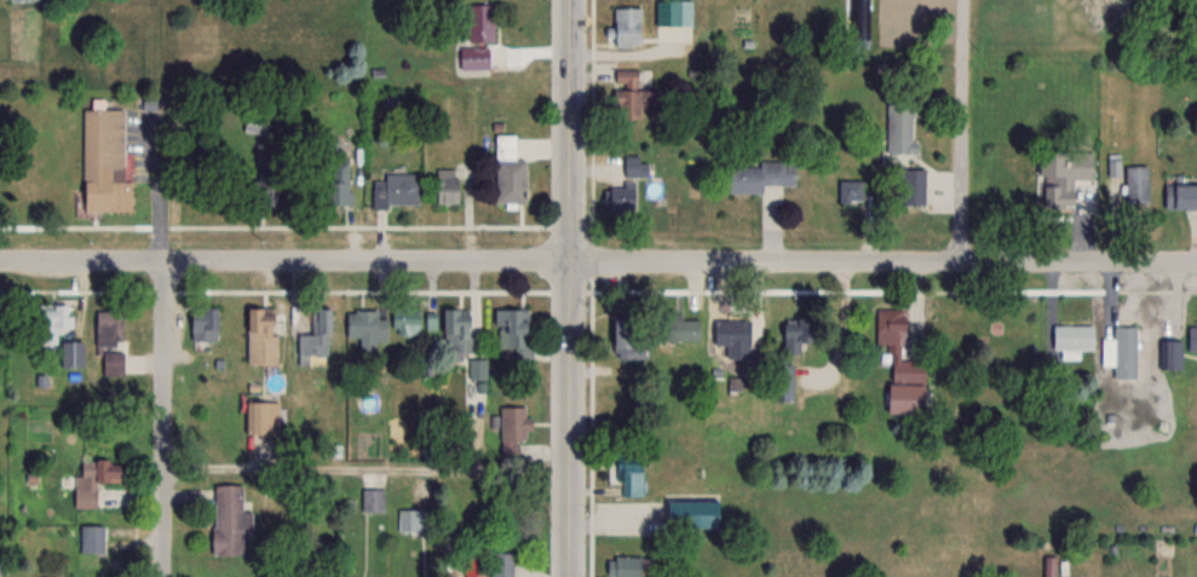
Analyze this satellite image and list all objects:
building: (22, 0)
building: (674, 12)
building: (861, 19)
building: (479, 23)
building: (627, 27)
building: (632, 97)
building: (255, 121)
building: (900, 127)
road: (961, 131)
building: (103, 160)
building: (508, 172)
building: (758, 175)
building: (1061, 177)
building: (338, 183)
building: (1136, 184)
building: (627, 185)
building: (447, 186)
building: (909, 186)
building: (264, 190)
building: (396, 190)
building: (851, 190)
road: (156, 192)
building: (1180, 197)
road: (598, 261)
road: (569, 288)
building: (52, 322)
building: (405, 322)
building: (203, 324)
building: (367, 328)
building: (680, 329)
building: (513, 331)
building: (456, 333)
building: (626, 334)
building: (732, 334)
building: (316, 335)
building: (260, 336)
building: (793, 336)
building: (1192, 339)
building: (1072, 340)
building: (109, 341)
building: (898, 346)
building: (1121, 347)
building: (70, 354)
building: (781, 380)
road: (160, 419)
building: (260, 419)
building: (512, 428)
road: (364, 468)
building: (632, 478)
building: (93, 480)
building: (373, 500)
building: (692, 514)
building: (226, 519)
road: (605, 523)
building: (90, 540)
building: (474, 565)
building: (501, 565)
building: (623, 566)

